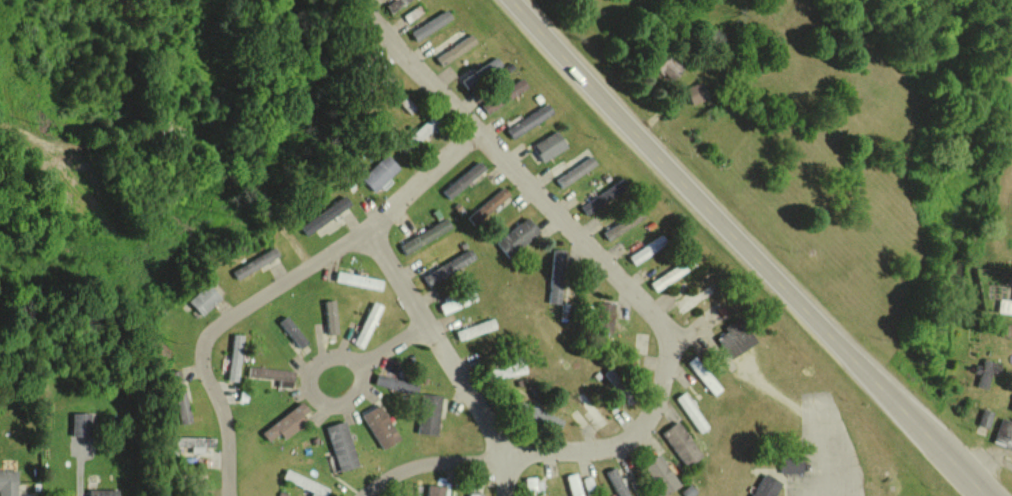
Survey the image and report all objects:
building: (432, 24)
building: (456, 49)
road: (415, 66)
building: (670, 66)
building: (483, 74)
building: (696, 92)
building: (530, 120)
building: (425, 129)
building: (549, 145)
building: (576, 171)
building: (380, 172)
building: (464, 179)
building: (606, 199)
building: (488, 206)
building: (325, 214)
building: (426, 235)
building: (518, 236)
road: (747, 250)
building: (255, 262)
building: (448, 267)
building: (558, 276)
building: (668, 277)
road: (277, 285)
building: (204, 298)
building: (1005, 306)
building: (331, 316)
building: (605, 316)
building: (368, 324)
building: (294, 331)
building: (736, 337)
building: (235, 357)
road: (447, 359)
road: (316, 364)
building: (274, 375)
building: (397, 384)
road: (658, 389)
building: (180, 396)
building: (692, 412)
building: (429, 414)
building: (982, 418)
road: (814, 422)
building: (287, 423)
building: (81, 424)
building: (381, 426)
building: (1003, 433)
building: (195, 442)
building: (681, 443)
building: (343, 445)
building: (792, 466)
building: (661, 474)
building: (8, 482)
building: (617, 482)
building: (307, 483)
building: (533, 484)
building: (575, 484)
building: (766, 486)
building: (435, 490)
building: (104, 492)
building: (473, 494)

